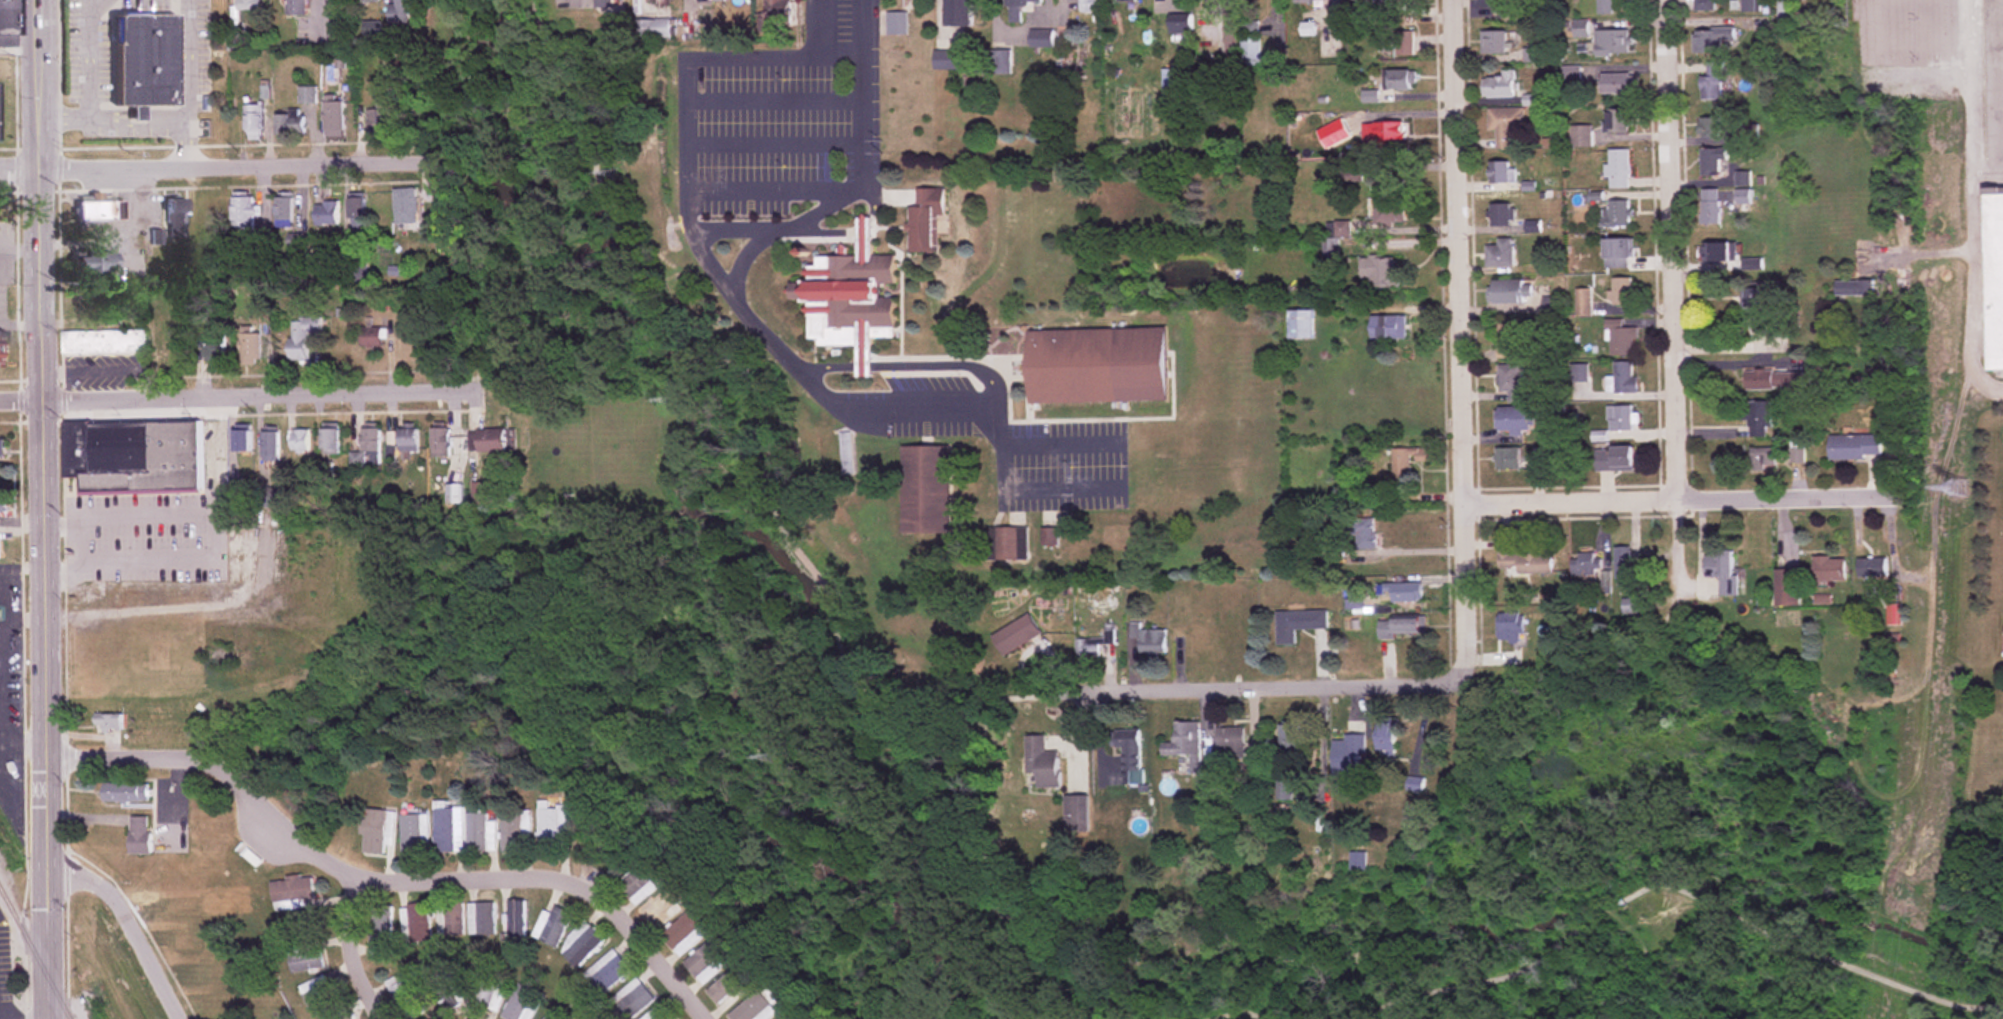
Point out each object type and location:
building: (1362, 0)
building: (1127, 1)
building: (364, 2)
building: (605, 2)
building: (1311, 2)
building: (1022, 3)
building: (1405, 3)
building: (248, 5)
building: (1703, 5)
building: (775, 6)
building: (1088, 6)
building: (1751, 6)
building: (1604, 7)
building: (294, 8)
building: (1510, 9)
building: (398, 12)
building: (955, 13)
building: (894, 23)
building: (7, 24)
building: (1180, 24)
building: (650, 29)
building: (1581, 29)
building: (1232, 31)
building: (1041, 39)
building: (1714, 41)
building: (1403, 43)
building: (1612, 43)
building: (1248, 51)
building: (144, 58)
building: (945, 60)
building: (999, 63)
building: (1401, 80)
road: (89, 81)
building: (1713, 82)
road: (187, 83)
building: (1616, 84)
building: (1500, 85)
building: (1172, 86)
road: (774, 95)
building: (333, 119)
building: (378, 121)
building: (253, 122)
building: (1617, 122)
building: (289, 123)
building: (1346, 123)
road: (136, 125)
building: (1505, 126)
building: (1709, 127)
building: (1387, 132)
building: (1580, 136)
road: (774, 138)
building: (1712, 161)
road: (20, 165)
road: (234, 167)
building: (1618, 169)
building: (1500, 172)
road: (774, 186)
building: (1742, 192)
road: (1973, 201)
building: (406, 206)
building: (1709, 207)
building: (1390, 210)
building: (97, 211)
building: (284, 212)
building: (217, 213)
building: (325, 213)
building: (244, 214)
building: (1616, 214)
building: (356, 215)
building: (1499, 215)
building: (173, 217)
building: (923, 218)
road: (697, 226)
road: (855, 226)
building: (1332, 239)
building: (1500, 253)
building: (1617, 254)
building: (1719, 254)
road: (742, 256)
building: (92, 263)
building: (1384, 273)
building: (1994, 275)
building: (1855, 289)
building: (1508, 292)
building: (1620, 293)
building: (847, 297)
road: (1671, 300)
building: (1582, 303)
building: (1762, 310)
building: (1299, 325)
building: (1388, 328)
road: (1460, 335)
building: (370, 337)
building: (301, 340)
building: (1621, 340)
building: (1512, 341)
building: (103, 343)
building: (169, 348)
building: (1, 349)
building: (214, 349)
building: (250, 350)
road: (908, 361)
building: (1095, 365)
building: (1622, 378)
building: (1775, 379)
building: (1511, 382)
road: (260, 396)
road: (21, 399)
road: (844, 402)
building: (1619, 417)
building: (1516, 418)
building: (1759, 418)
building: (408, 437)
road: (1061, 438)
building: (242, 439)
building: (330, 439)
building: (489, 439)
building: (300, 441)
building: (441, 441)
building: (270, 444)
building: (1856, 445)
building: (365, 446)
building: (1, 447)
building: (133, 456)
building: (1507, 457)
building: (1615, 457)
building: (1763, 458)
building: (1405, 461)
road: (1063, 484)
power tower: (1958, 488)
building: (923, 489)
building: (454, 493)
road: (1674, 495)
building: (268, 496)
building: (1, 503)
road: (43, 509)
road: (772, 513)
road: (61, 519)
road: (216, 524)
building: (1362, 532)
building: (1000, 542)
building: (1527, 561)
building: (1584, 564)
building: (1623, 564)
building: (1873, 566)
building: (1830, 567)
building: (1724, 571)
building: (1789, 586)
building: (1405, 591)
building: (1635, 600)
building: (1297, 623)
building: (1407, 625)
building: (1509, 626)
building: (1015, 633)
building: (1146, 639)
building: (1199, 639)
building: (1092, 643)
road: (1286, 686)
road: (997, 699)
building: (106, 721)
building: (1385, 737)
building: (1288, 741)
building: (1230, 742)
building: (1188, 751)
building: (1128, 754)
building: (1348, 754)
road: (124, 759)
building: (1040, 761)
building: (1415, 783)
building: (125, 791)
building: (1075, 813)
road: (281, 822)
building: (551, 827)
building: (448, 829)
building: (376, 830)
building: (516, 830)
building: (414, 832)
building: (481, 833)
building: (138, 835)
building: (1357, 860)
road: (565, 878)
building: (638, 886)
road: (1677, 890)
building: (291, 892)
building: (661, 908)
building: (449, 919)
building: (481, 919)
road: (126, 920)
building: (515, 922)
building: (414, 923)
building: (554, 926)
building: (379, 930)
building: (683, 930)
building: (582, 945)
railway: (35, 950)
road: (348, 952)
building: (304, 957)
building: (708, 959)
building: (606, 973)
building: (729, 986)
building: (446, 990)
building: (316, 991)
building: (488, 992)
building: (404, 996)
building: (518, 1003)
building: (755, 1008)
building: (658, 1013)
road: (1080, 1013)
road: (1236, 1013)
building: (338, 1014)
building: (551, 1016)
building: (788, 1016)
road: (23, 1018)

